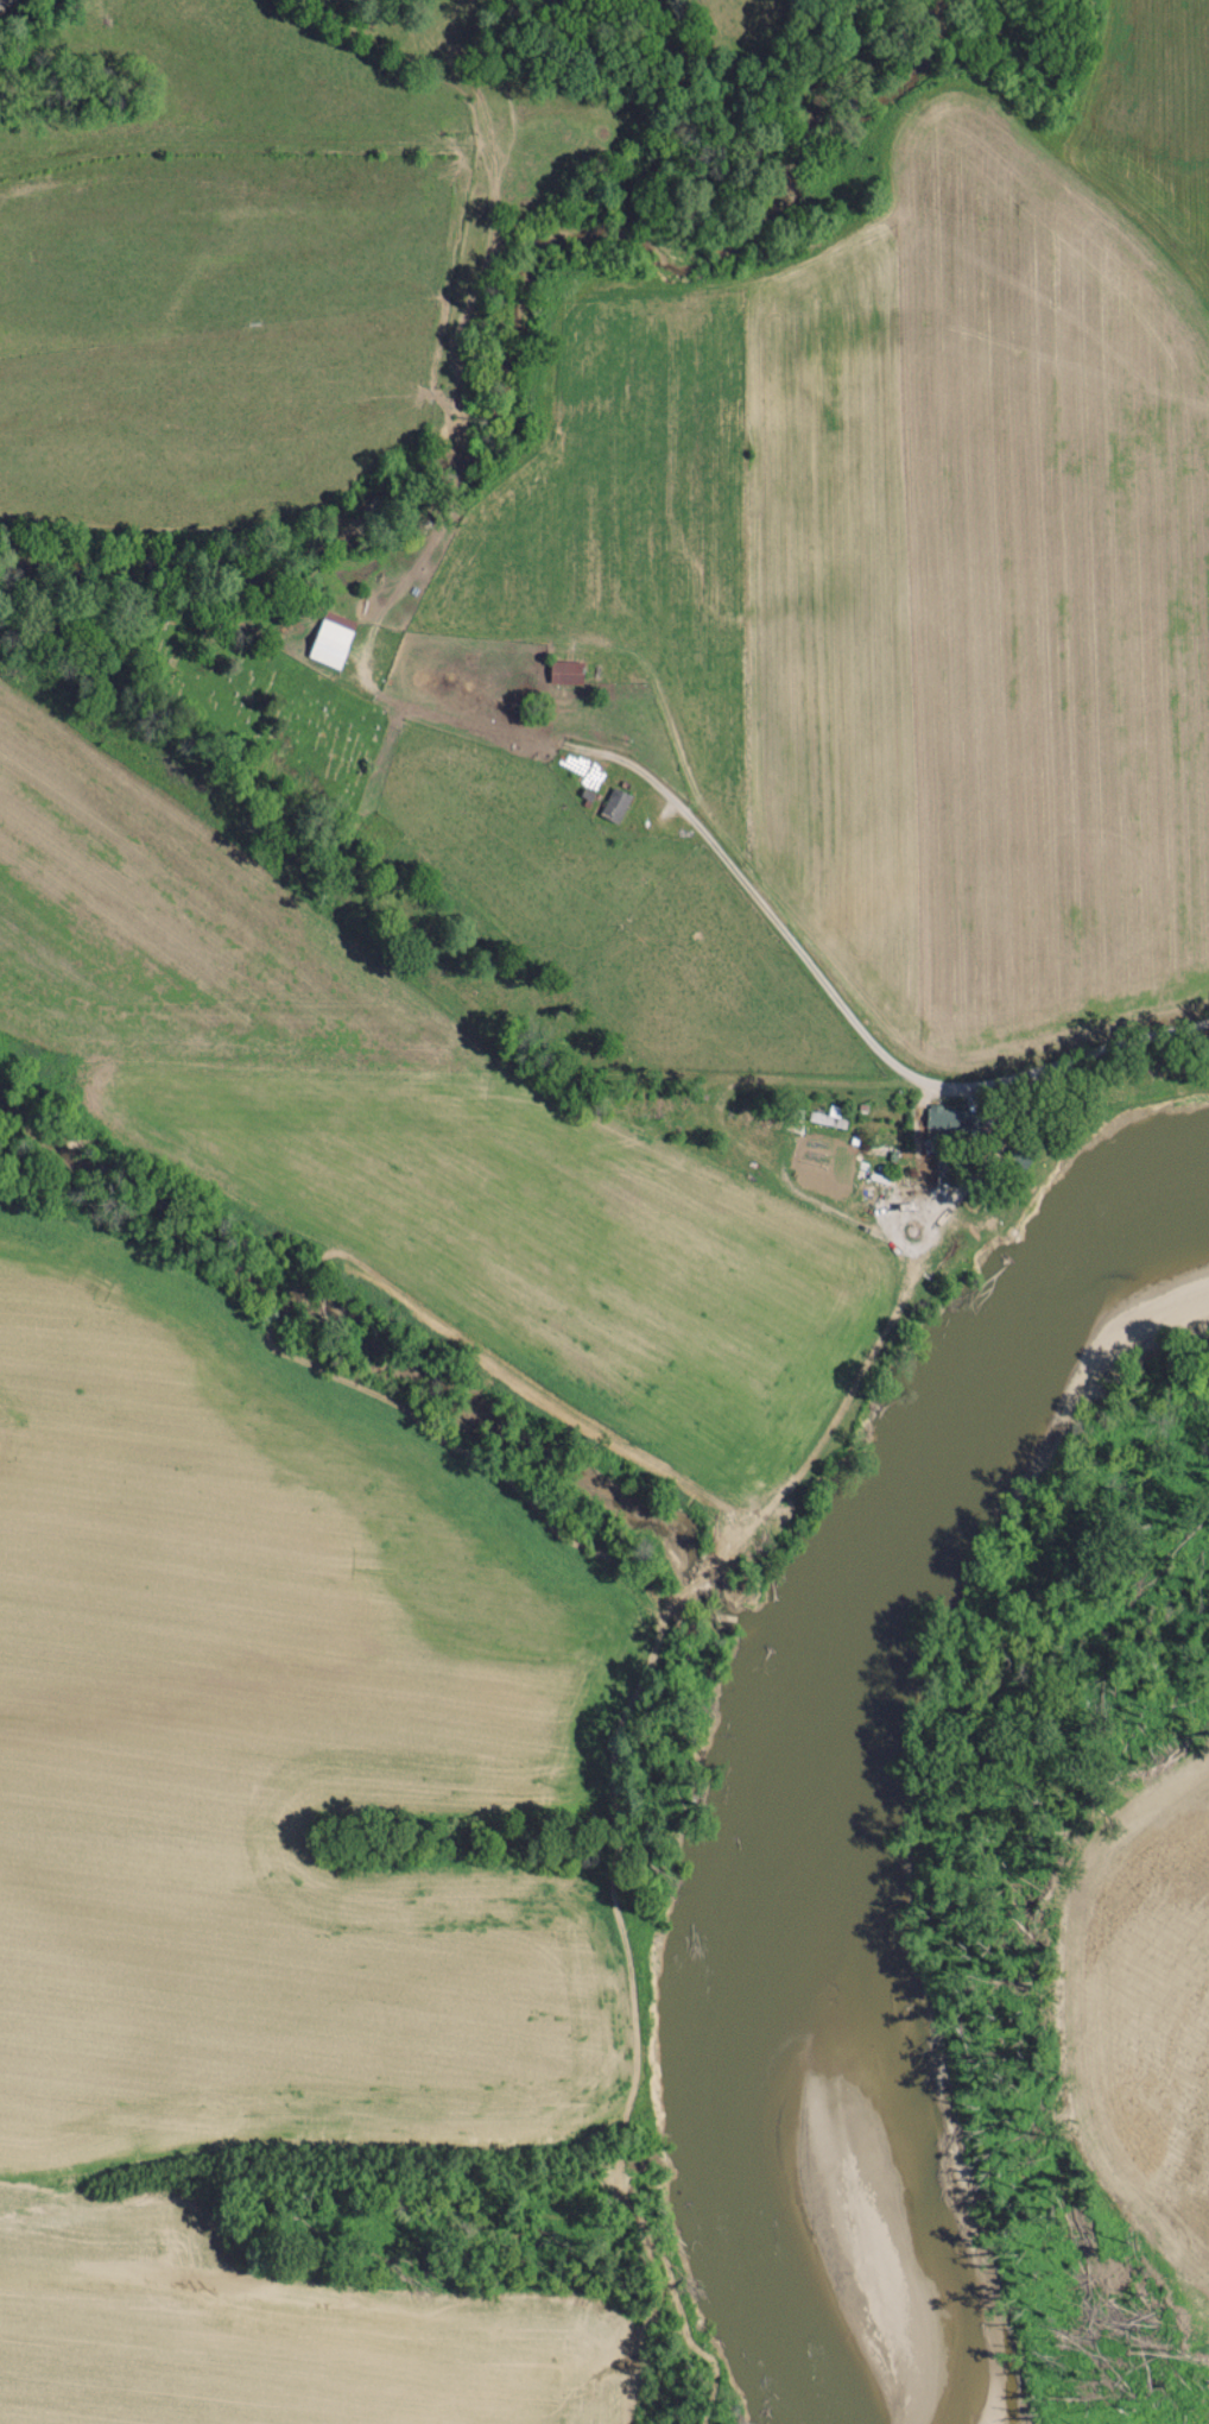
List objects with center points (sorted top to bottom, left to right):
building: (331, 638)
building: (565, 671)
park: (258, 694)
building: (615, 804)
road: (887, 1073)
building: (952, 1118)
river: (814, 1762)

